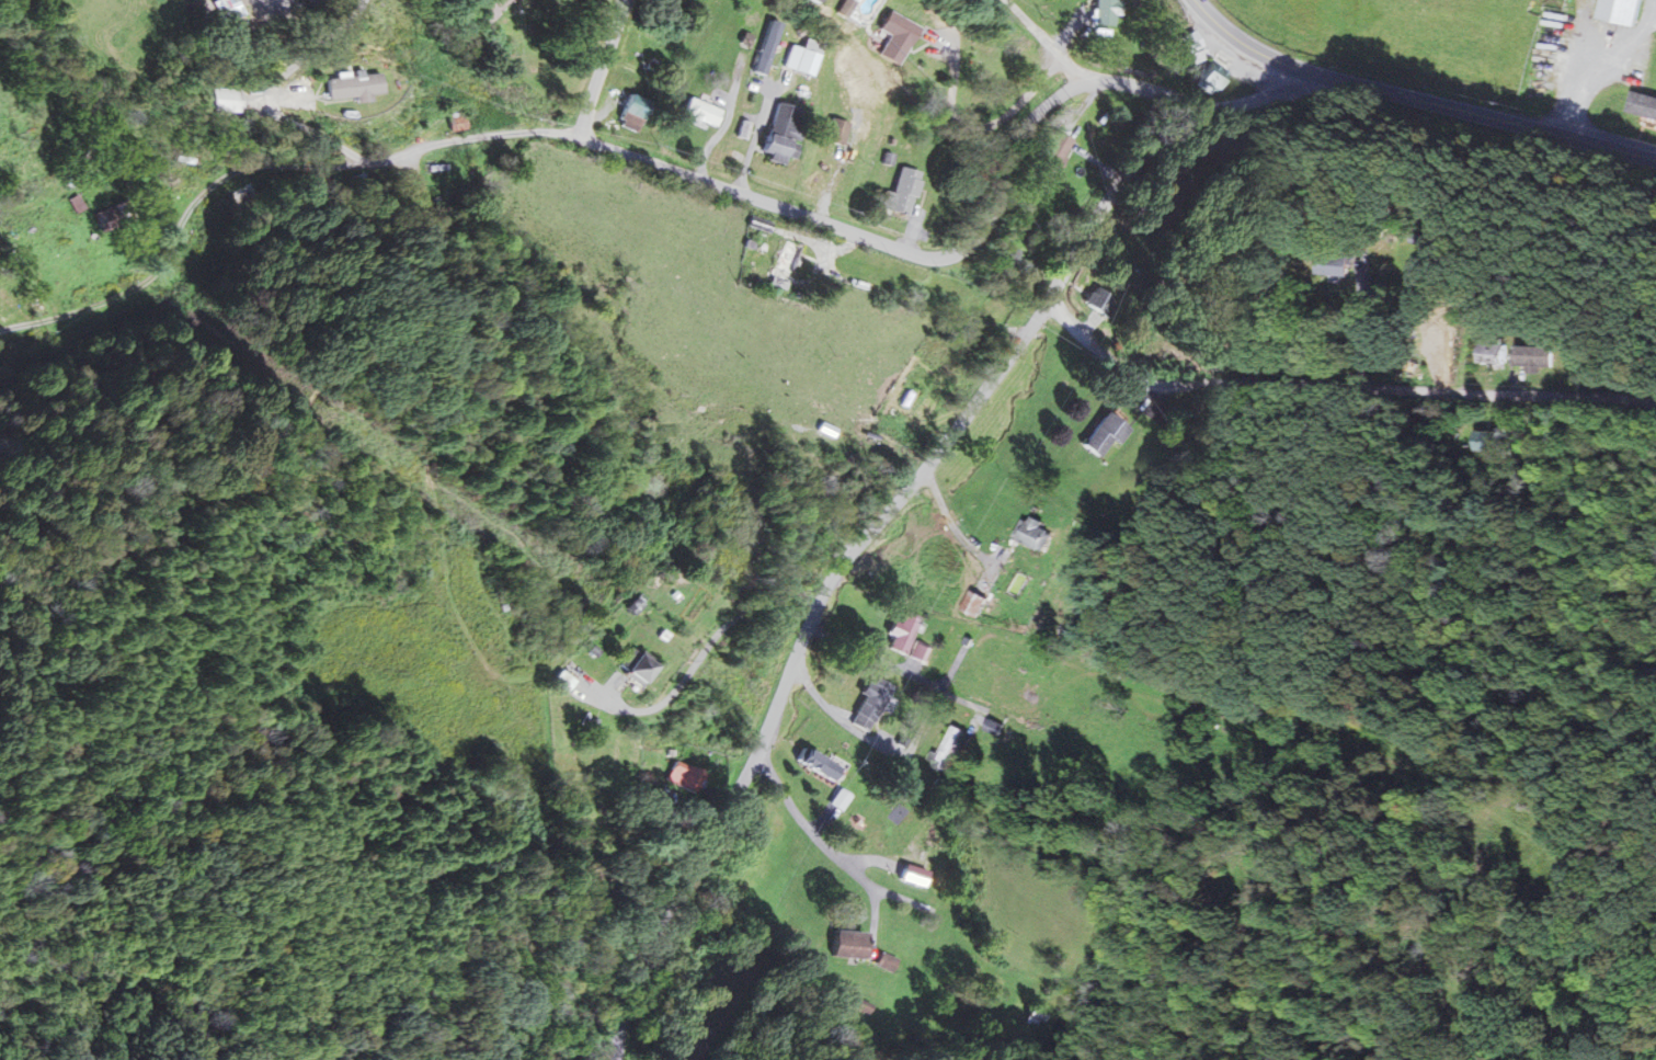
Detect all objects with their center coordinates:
building: (815, 1)
road: (624, 7)
building: (489, 9)
building: (1625, 11)
building: (1106, 12)
building: (896, 37)
road: (1046, 39)
building: (1192, 46)
road: (1265, 55)
building: (803, 57)
road: (602, 68)
building: (1210, 82)
building: (356, 87)
building: (1644, 104)
building: (636, 109)
building: (703, 112)
road: (99, 118)
road: (1504, 119)
building: (837, 132)
building: (784, 134)
road: (630, 155)
building: (1052, 156)
building: (240, 190)
building: (904, 193)
building: (111, 218)
building: (1016, 261)
building: (1341, 262)
building: (785, 264)
building: (1100, 301)
building: (1437, 347)
building: (1496, 351)
road: (351, 353)
building: (1538, 357)
road: (1335, 386)
building: (826, 430)
building: (1106, 434)
building: (1487, 441)
road: (902, 494)
building: (1036, 533)
road: (650, 543)
building: (974, 603)
building: (907, 637)
road: (709, 640)
building: (639, 666)
building: (564, 681)
building: (870, 704)
road: (1007, 722)
road: (853, 728)
building: (949, 748)
building: (820, 764)
building: (686, 773)
road: (820, 844)
building: (913, 875)
building: (849, 944)
building: (887, 961)

